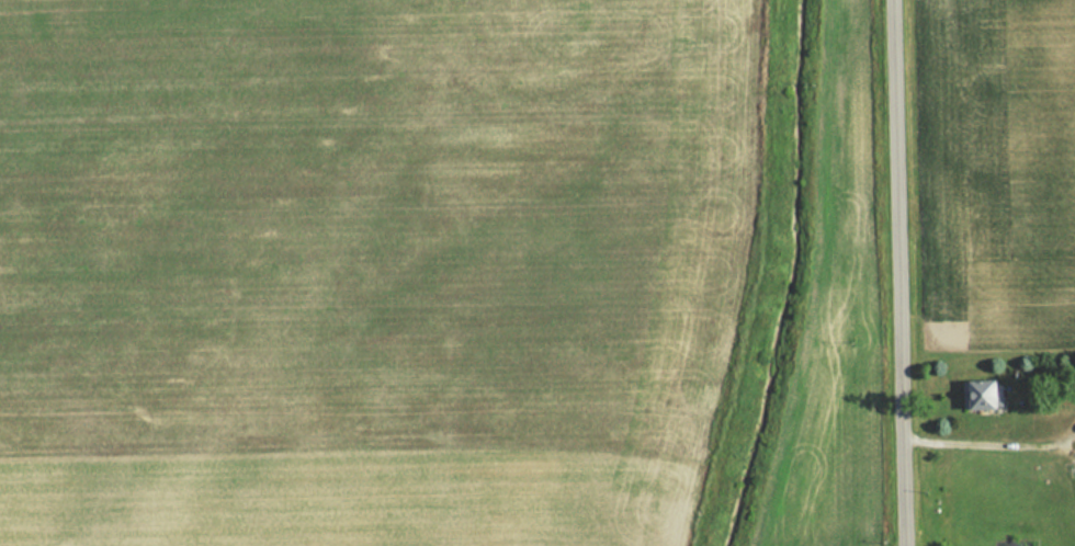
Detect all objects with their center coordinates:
crop: (1009, 173)
road: (910, 273)
building: (981, 396)

